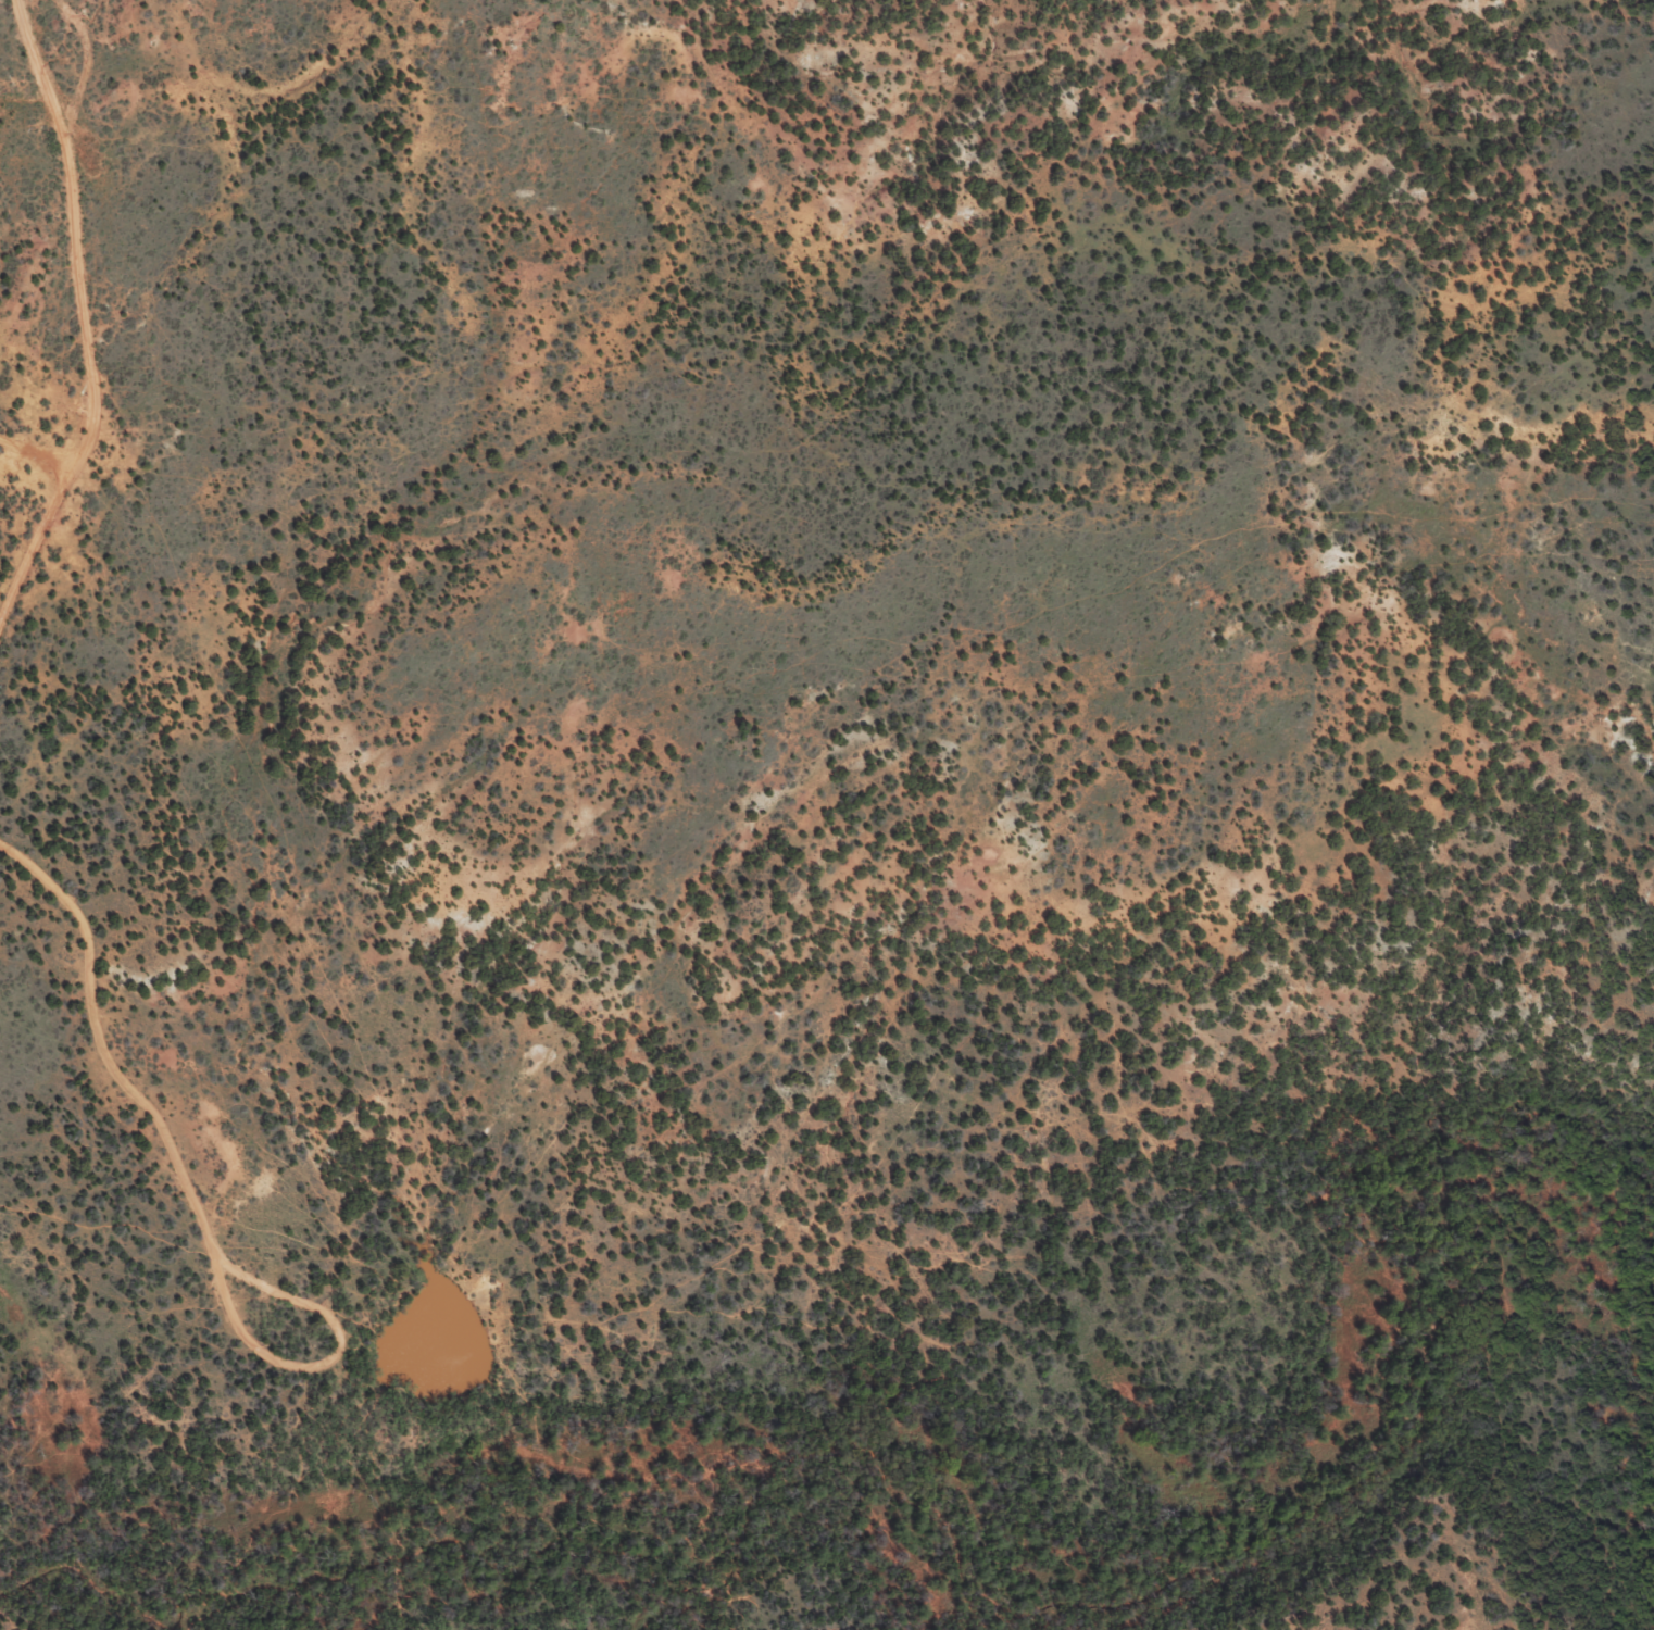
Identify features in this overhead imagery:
road: (9, 335)

